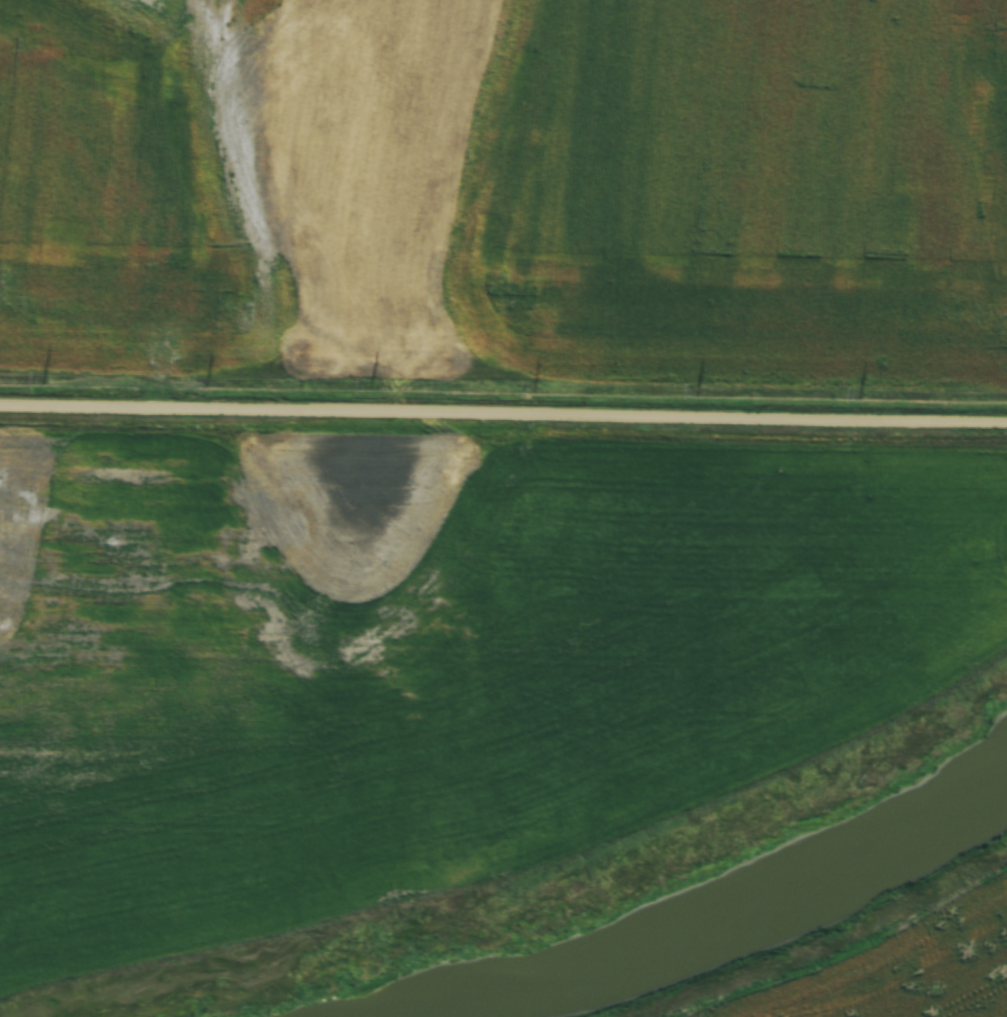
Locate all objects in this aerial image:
road: (503, 414)
river: (722, 921)

